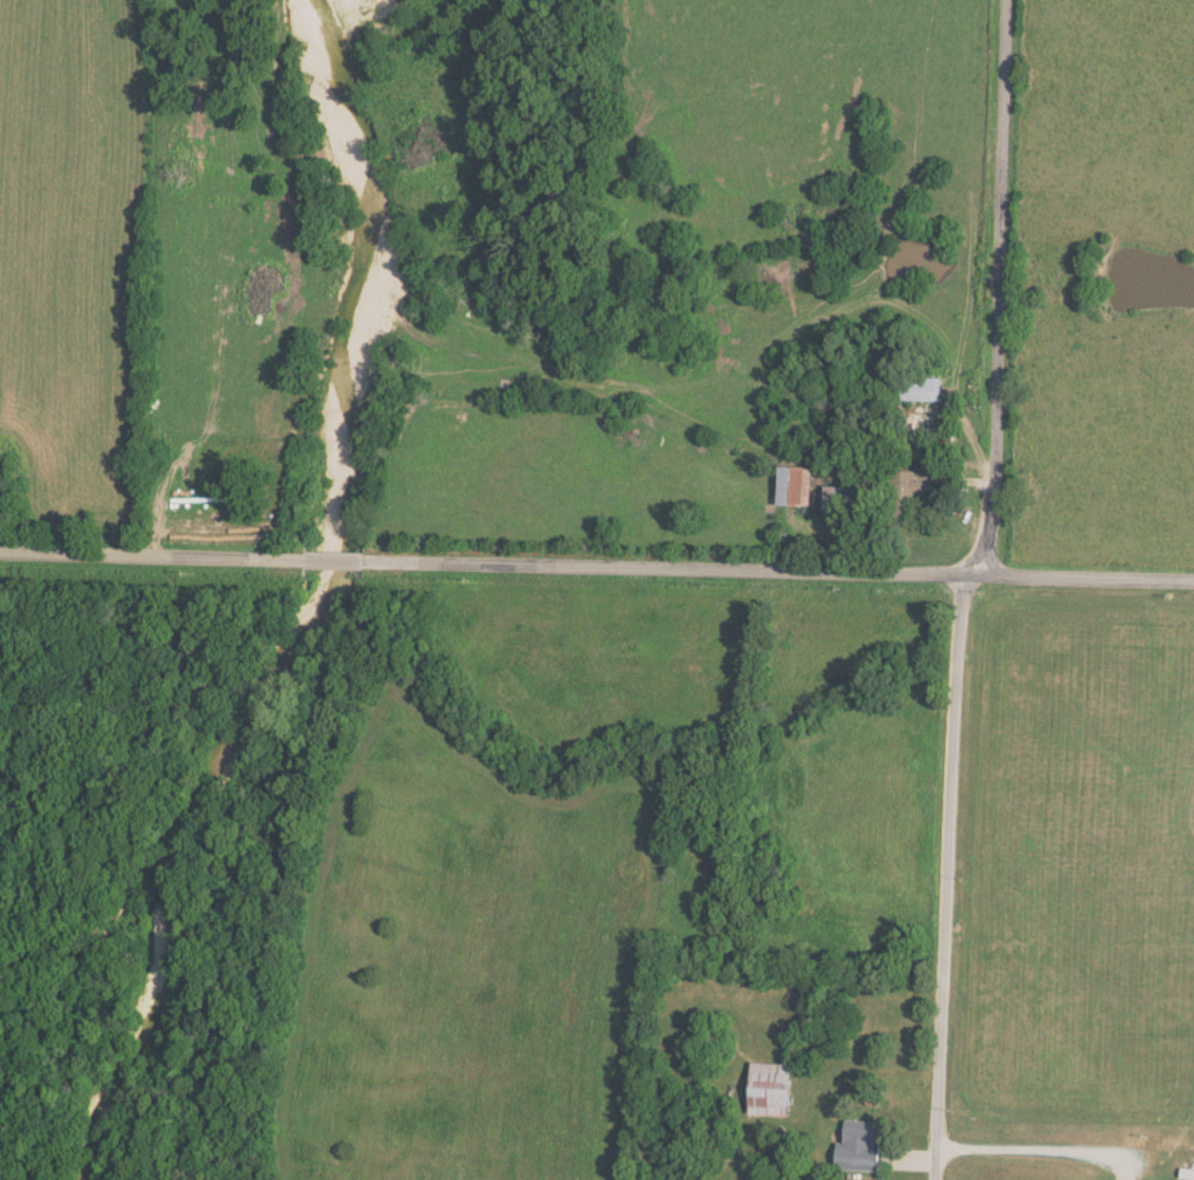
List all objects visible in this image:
road: (995, 288)
building: (922, 388)
building: (938, 436)
building: (794, 486)
building: (906, 493)
building: (836, 498)
road: (153, 555)
road: (334, 558)
road: (777, 571)
road: (945, 877)
building: (770, 1088)
building: (860, 1144)
road: (1031, 1155)

